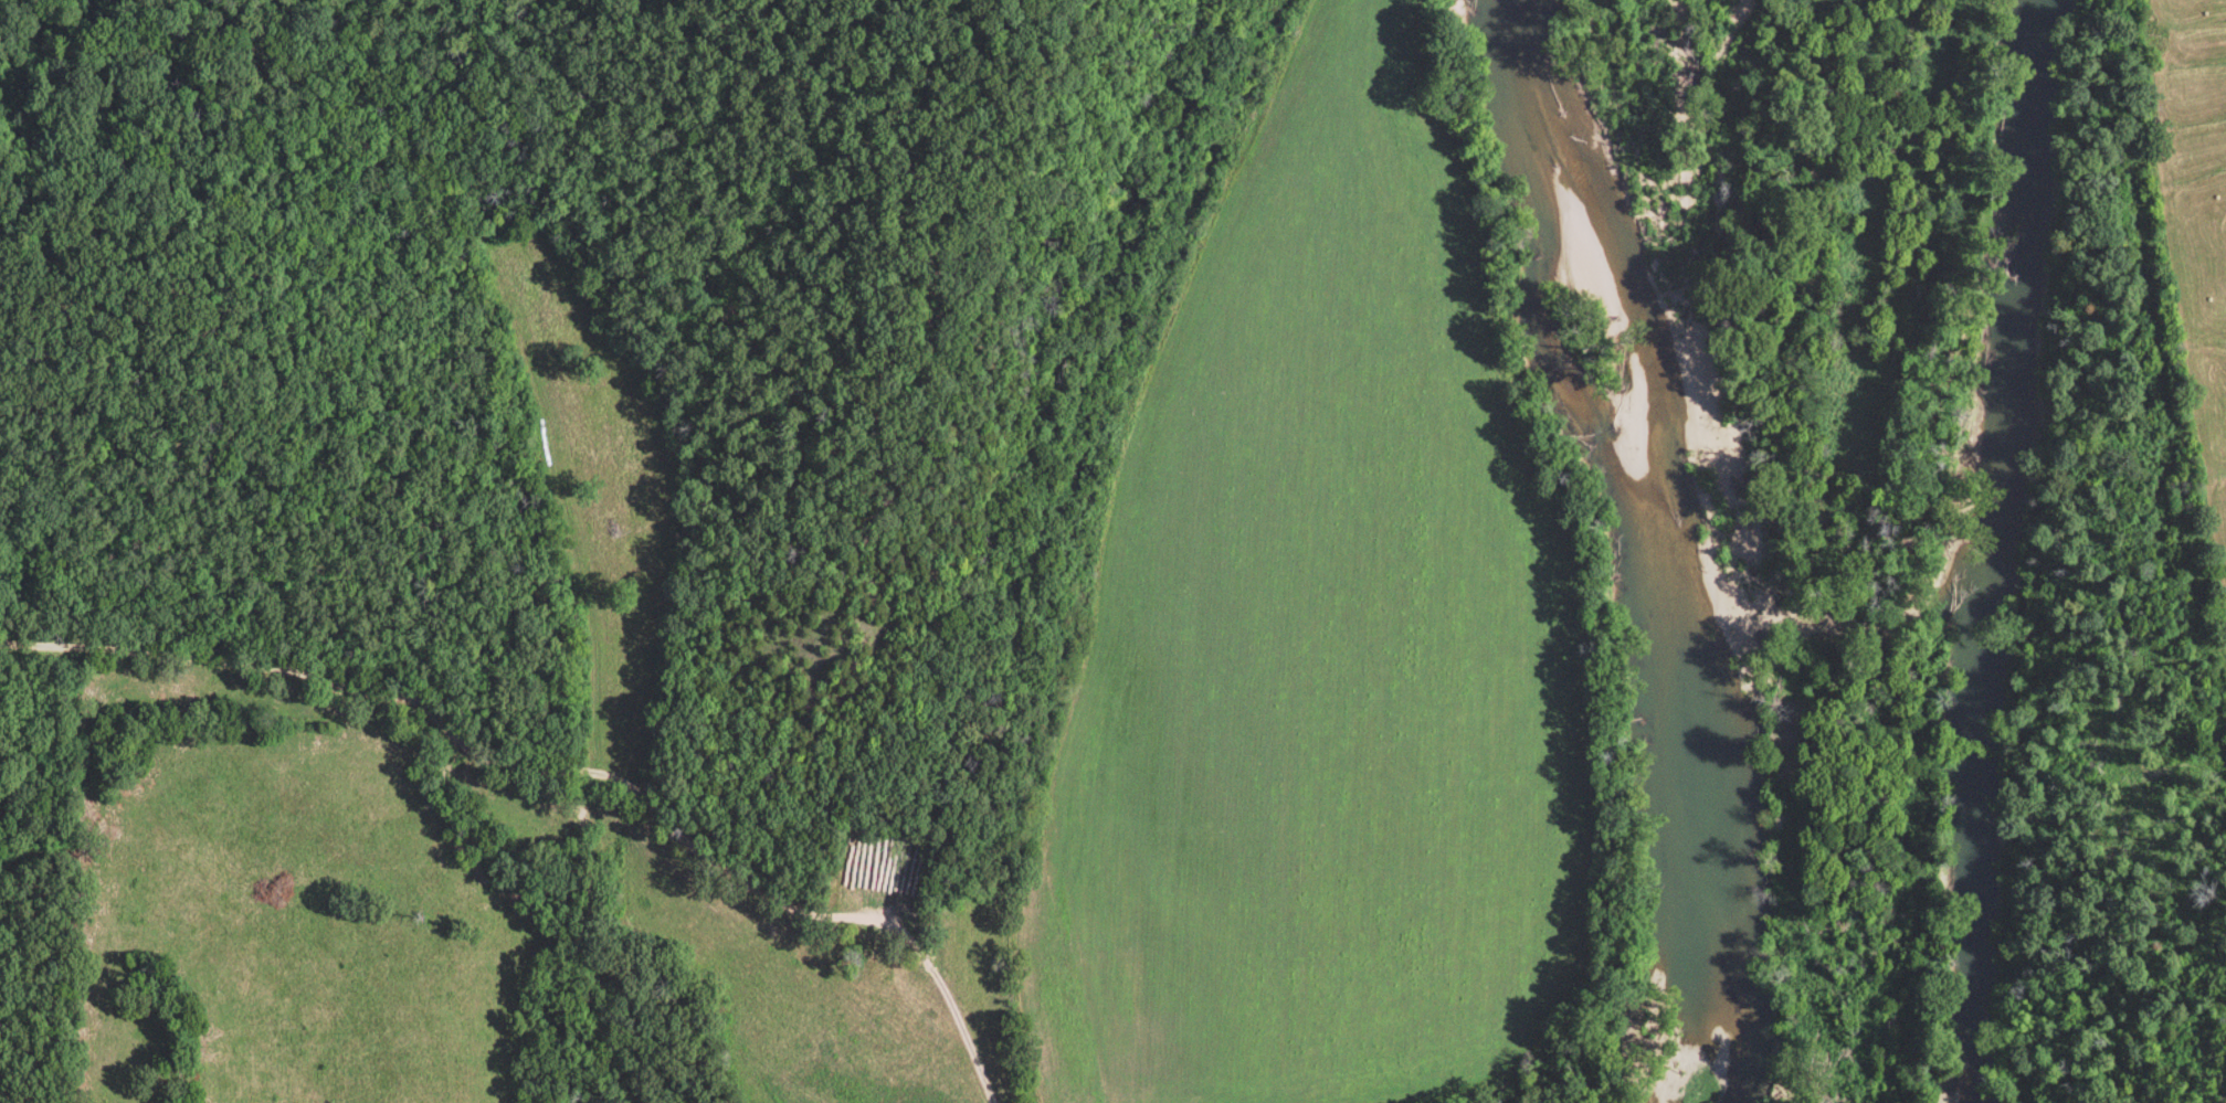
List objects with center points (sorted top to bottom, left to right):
river: (1650, 548)
road: (565, 765)

